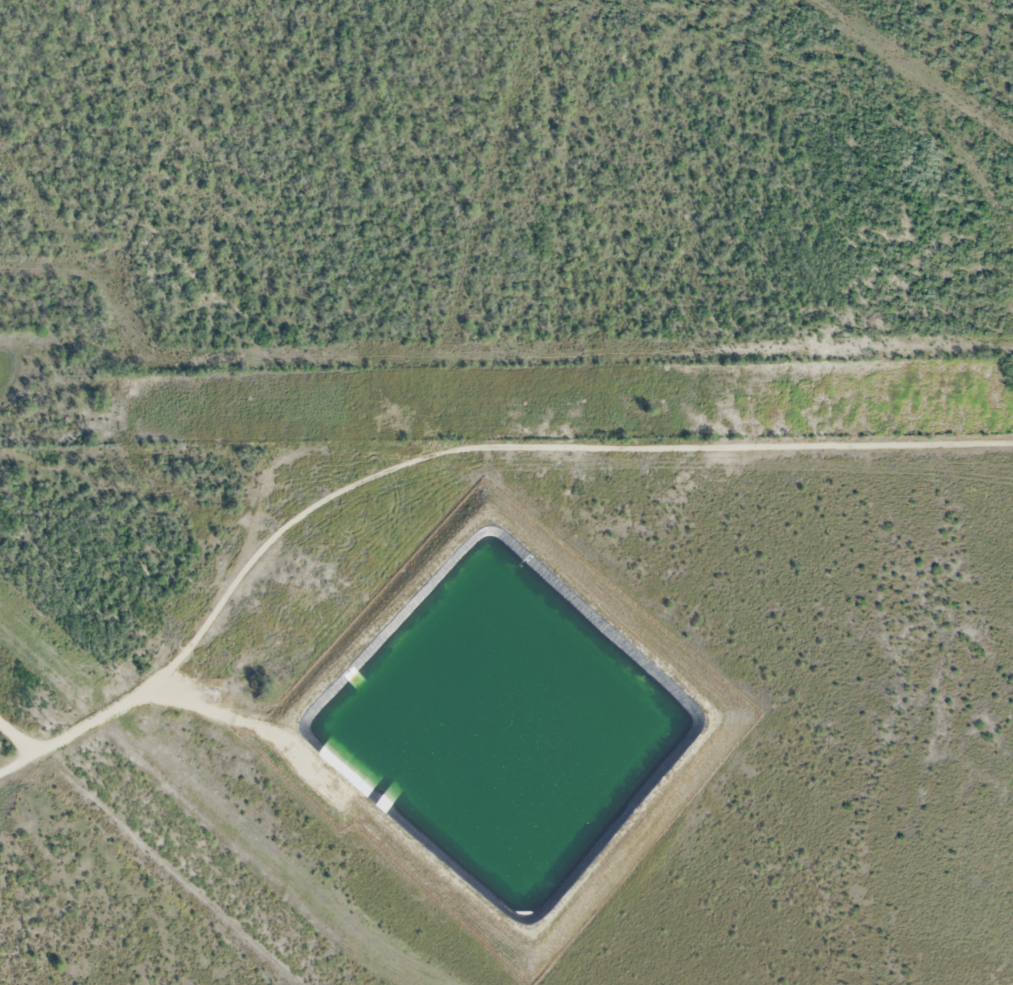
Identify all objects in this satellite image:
road: (449, 449)
power tower: (48, 726)

